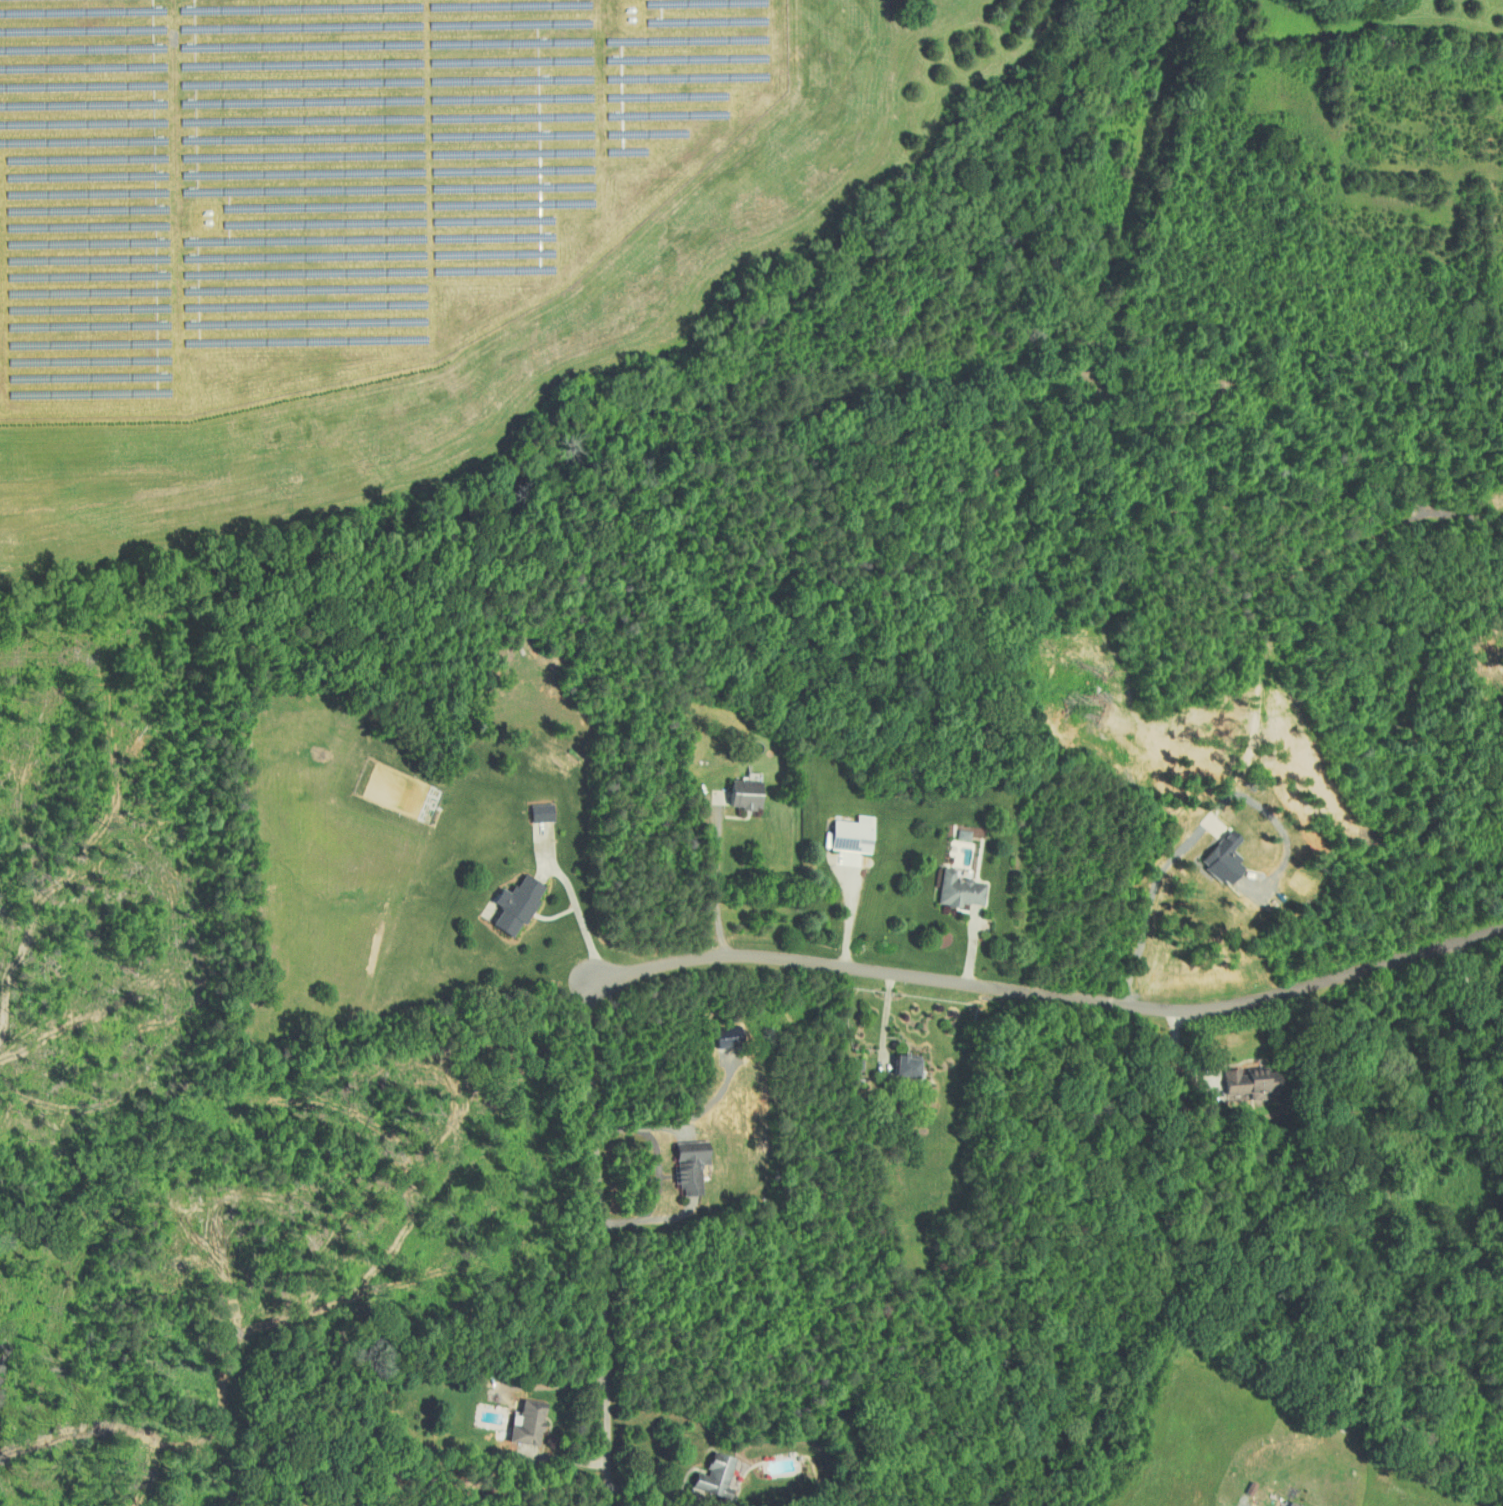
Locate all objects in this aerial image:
building: (750, 793)
building: (546, 812)
building: (967, 833)
building: (856, 834)
building: (1217, 857)
road: (714, 878)
building: (964, 889)
building: (522, 904)
road: (852, 908)
road: (1150, 910)
road: (574, 927)
road: (1056, 992)
road: (1348, 1009)
road: (886, 1020)
road: (1181, 1049)
building: (912, 1066)
building: (1241, 1084)
road: (662, 1150)
road: (656, 1156)
building: (695, 1169)
road: (606, 1240)
building: (533, 1422)
road: (576, 1434)
road: (640, 1469)
building: (719, 1470)
road: (661, 1492)
building: (1289, 1504)
building: (1275, 1505)

